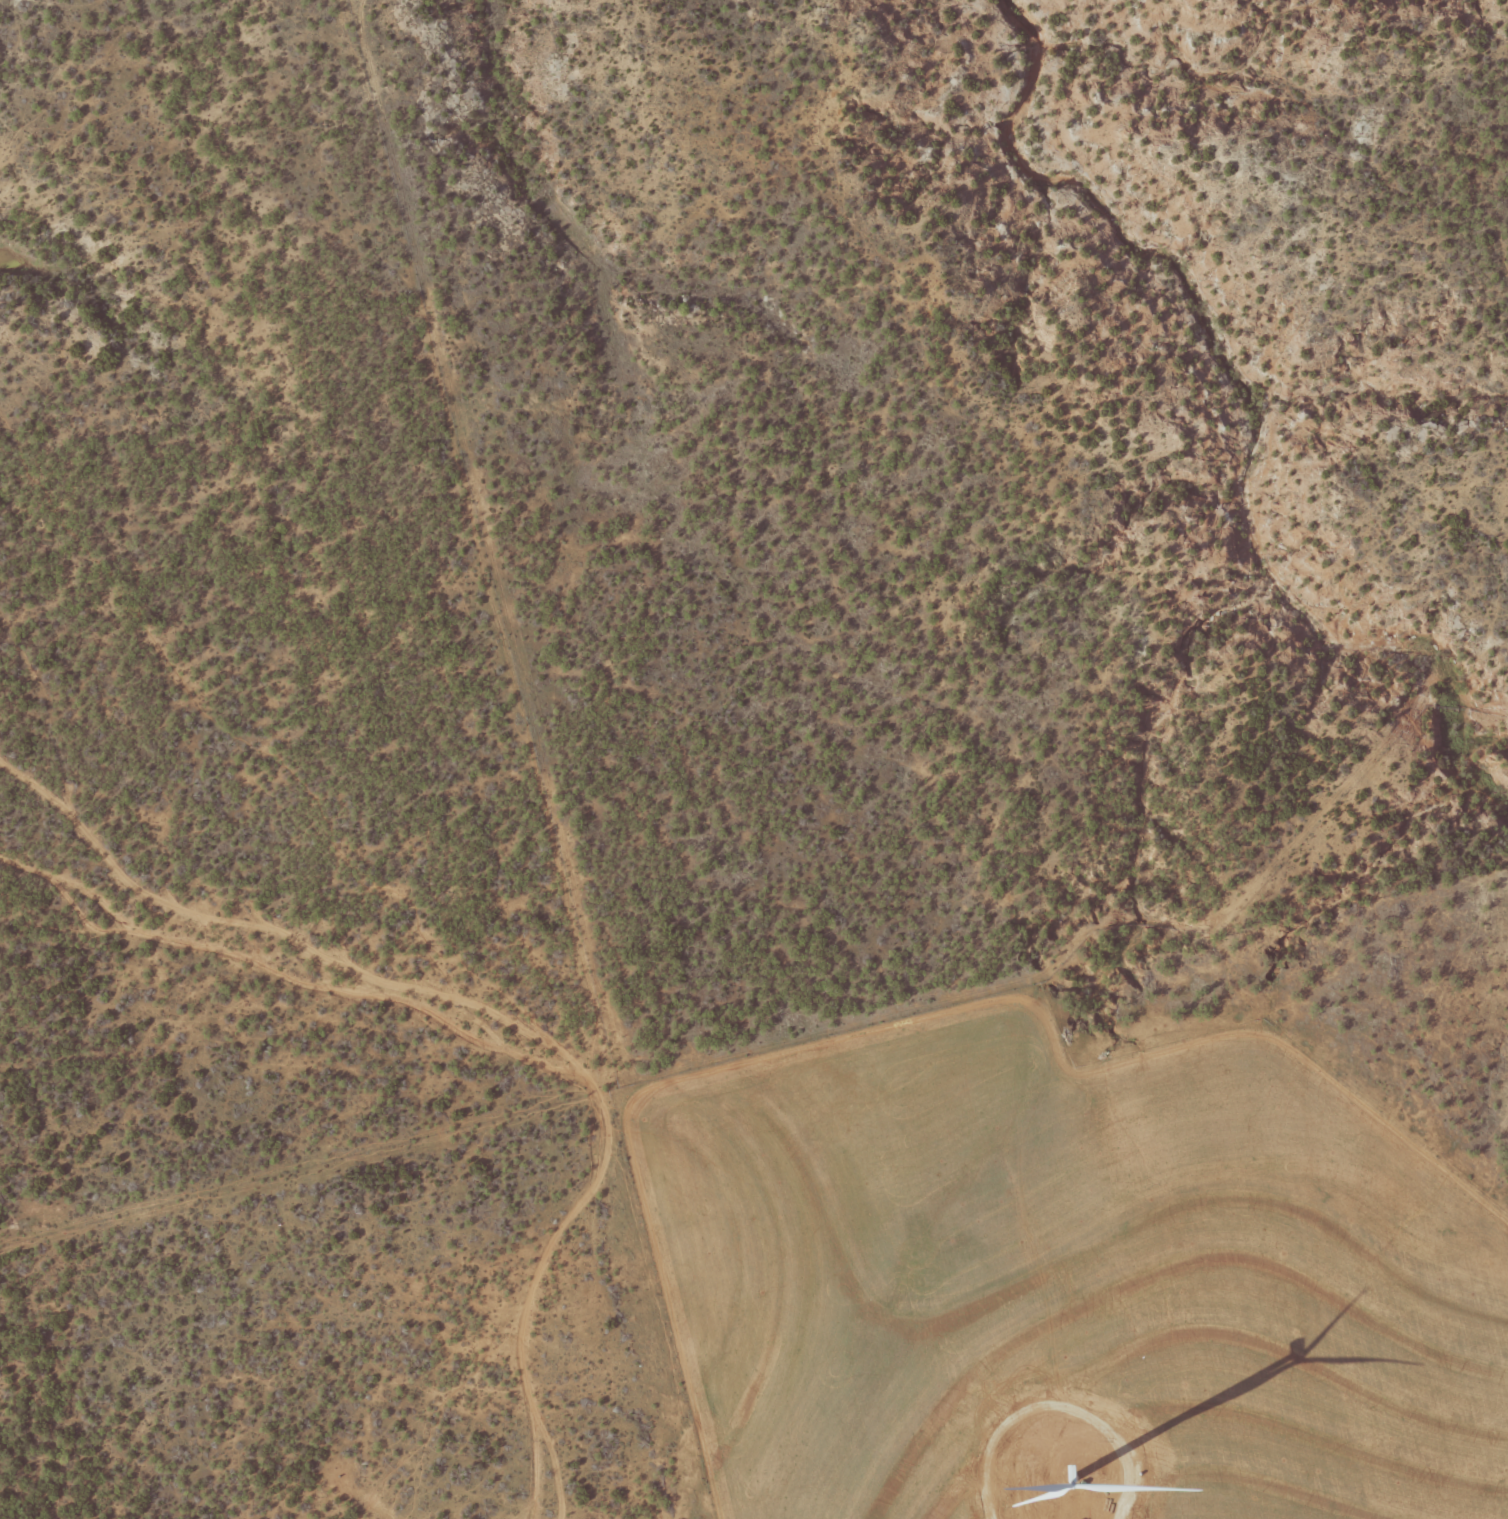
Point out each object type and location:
road: (498, 1057)
wind turbine: (1076, 1470)

